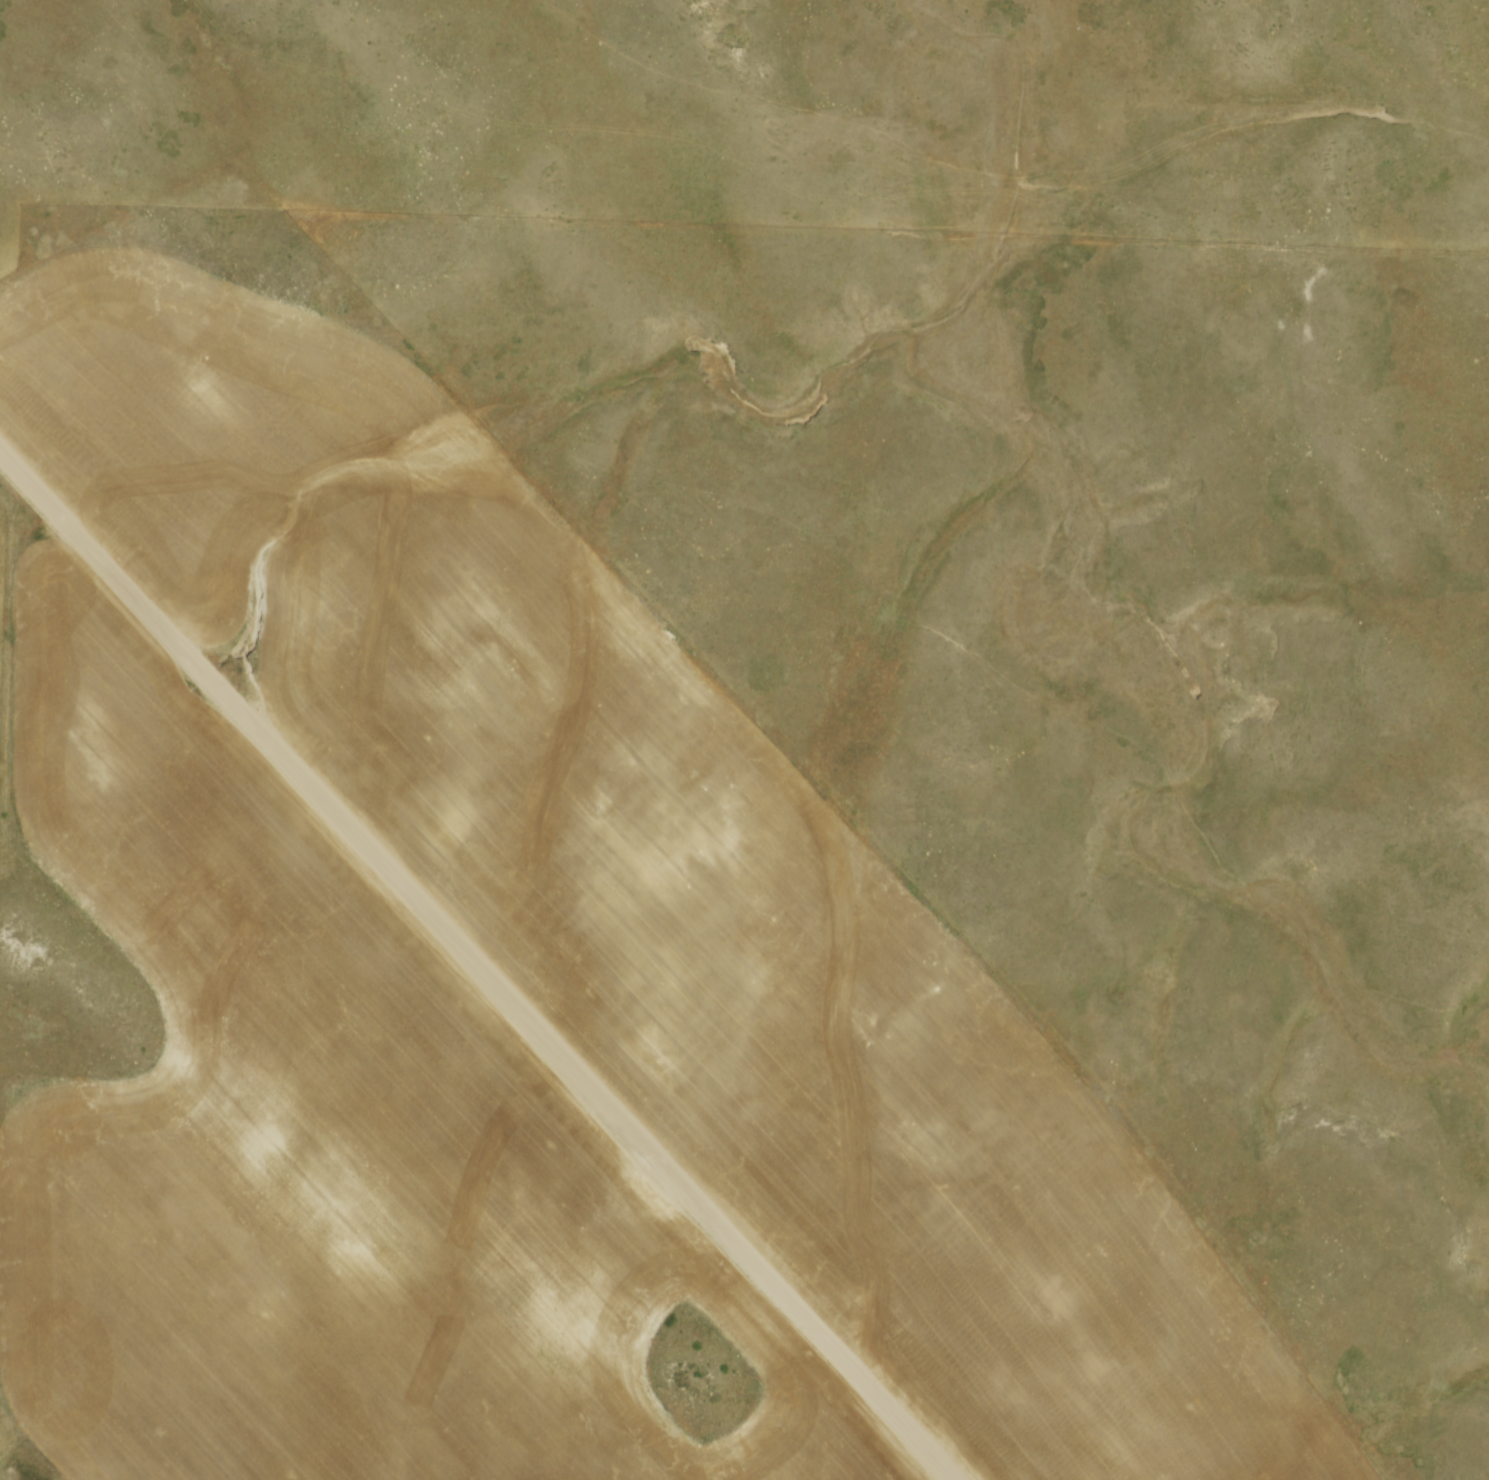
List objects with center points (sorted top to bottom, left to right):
crop: (659, 875)
road: (475, 965)
crop: (331, 1164)

